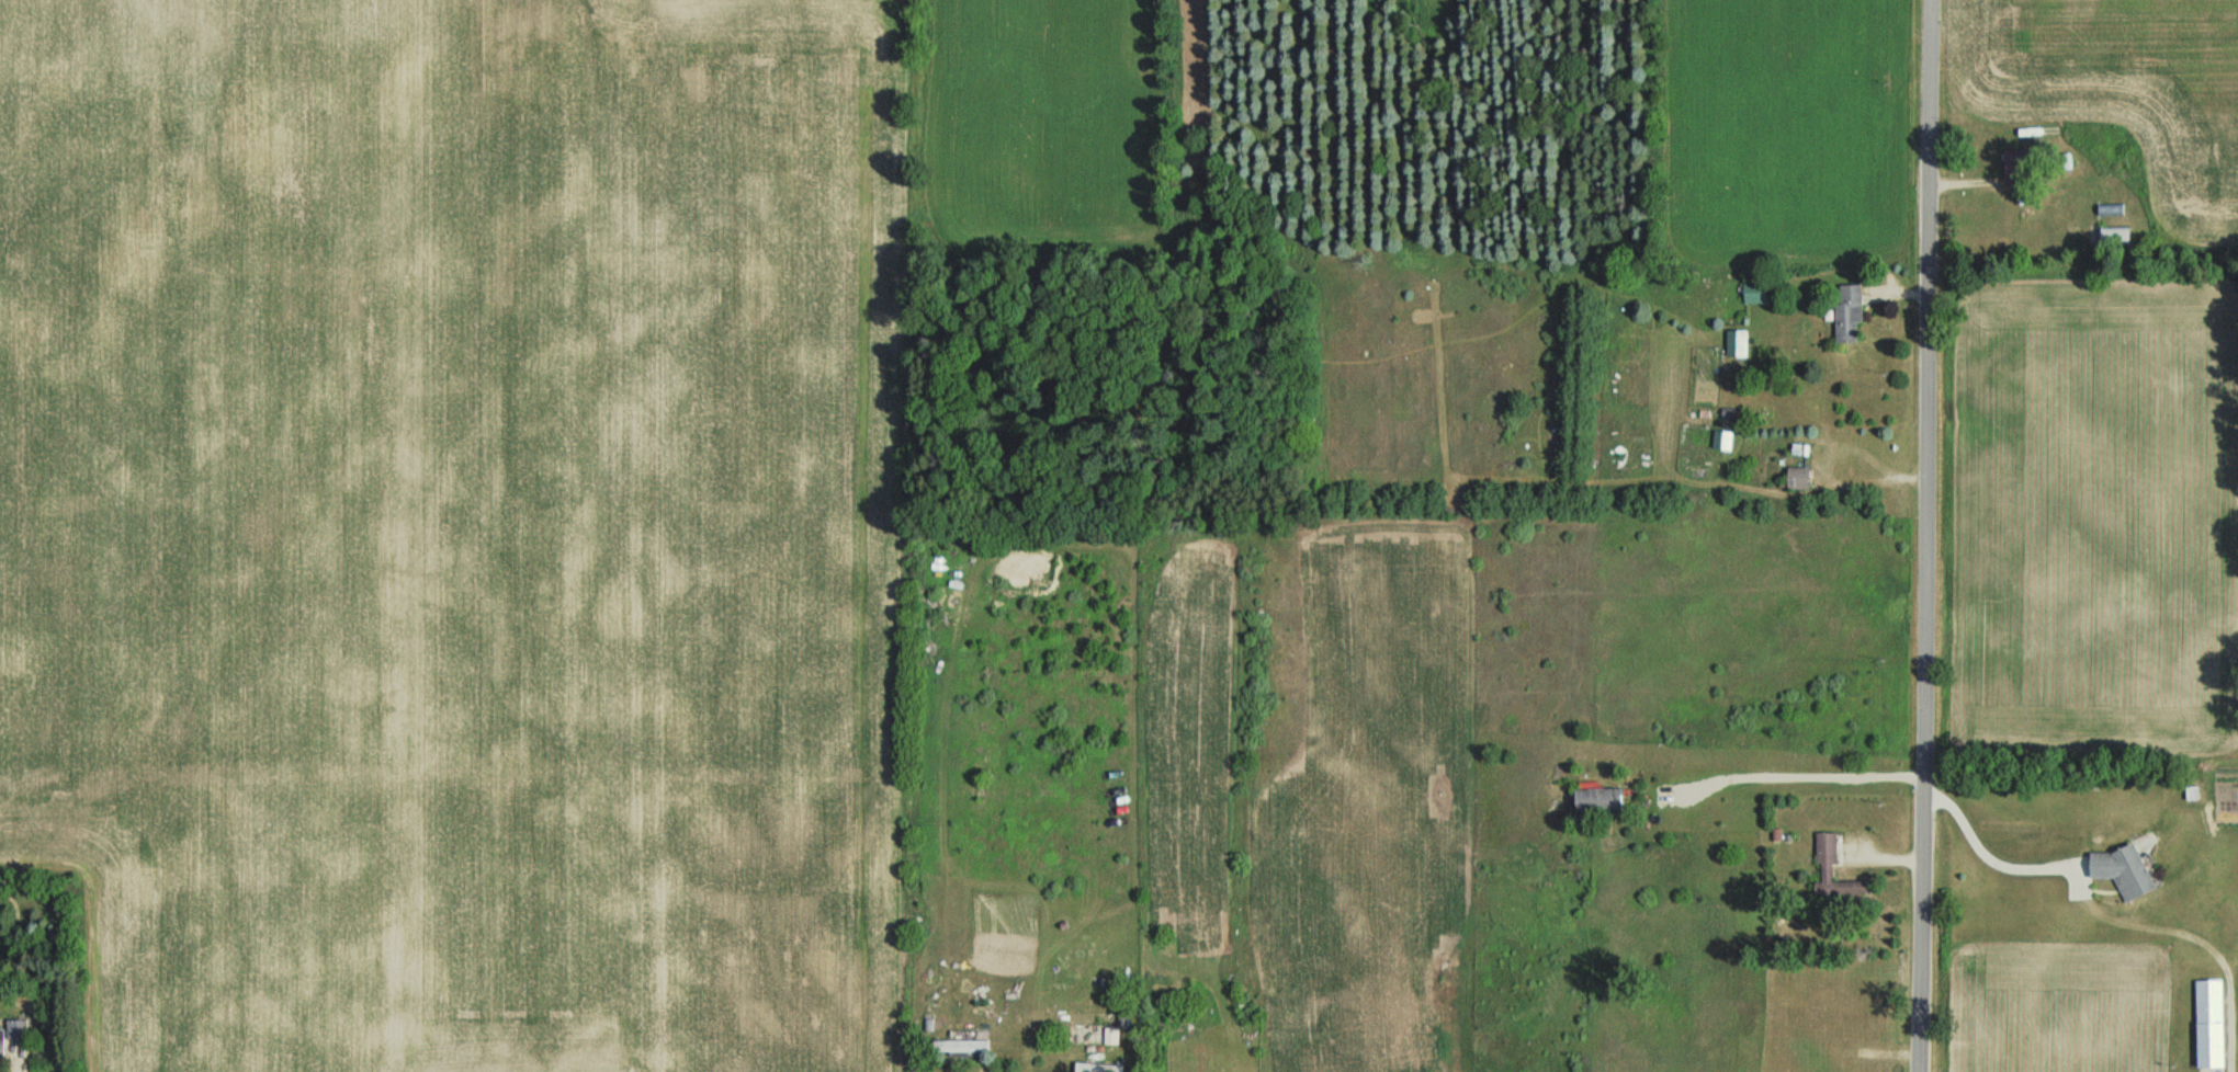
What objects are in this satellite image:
building: (2012, 167)
road: (1962, 181)
building: (2109, 210)
building: (2109, 236)
building: (1846, 312)
building: (1736, 343)
building: (1720, 441)
building: (1795, 479)
road: (1925, 536)
building: (1595, 800)
road: (1983, 857)
building: (2121, 870)
building: (1831, 875)
building: (2207, 1025)
building: (12, 1034)
building: (1087, 1034)
building: (959, 1048)
road: (971, 1063)
road: (21, 1068)

